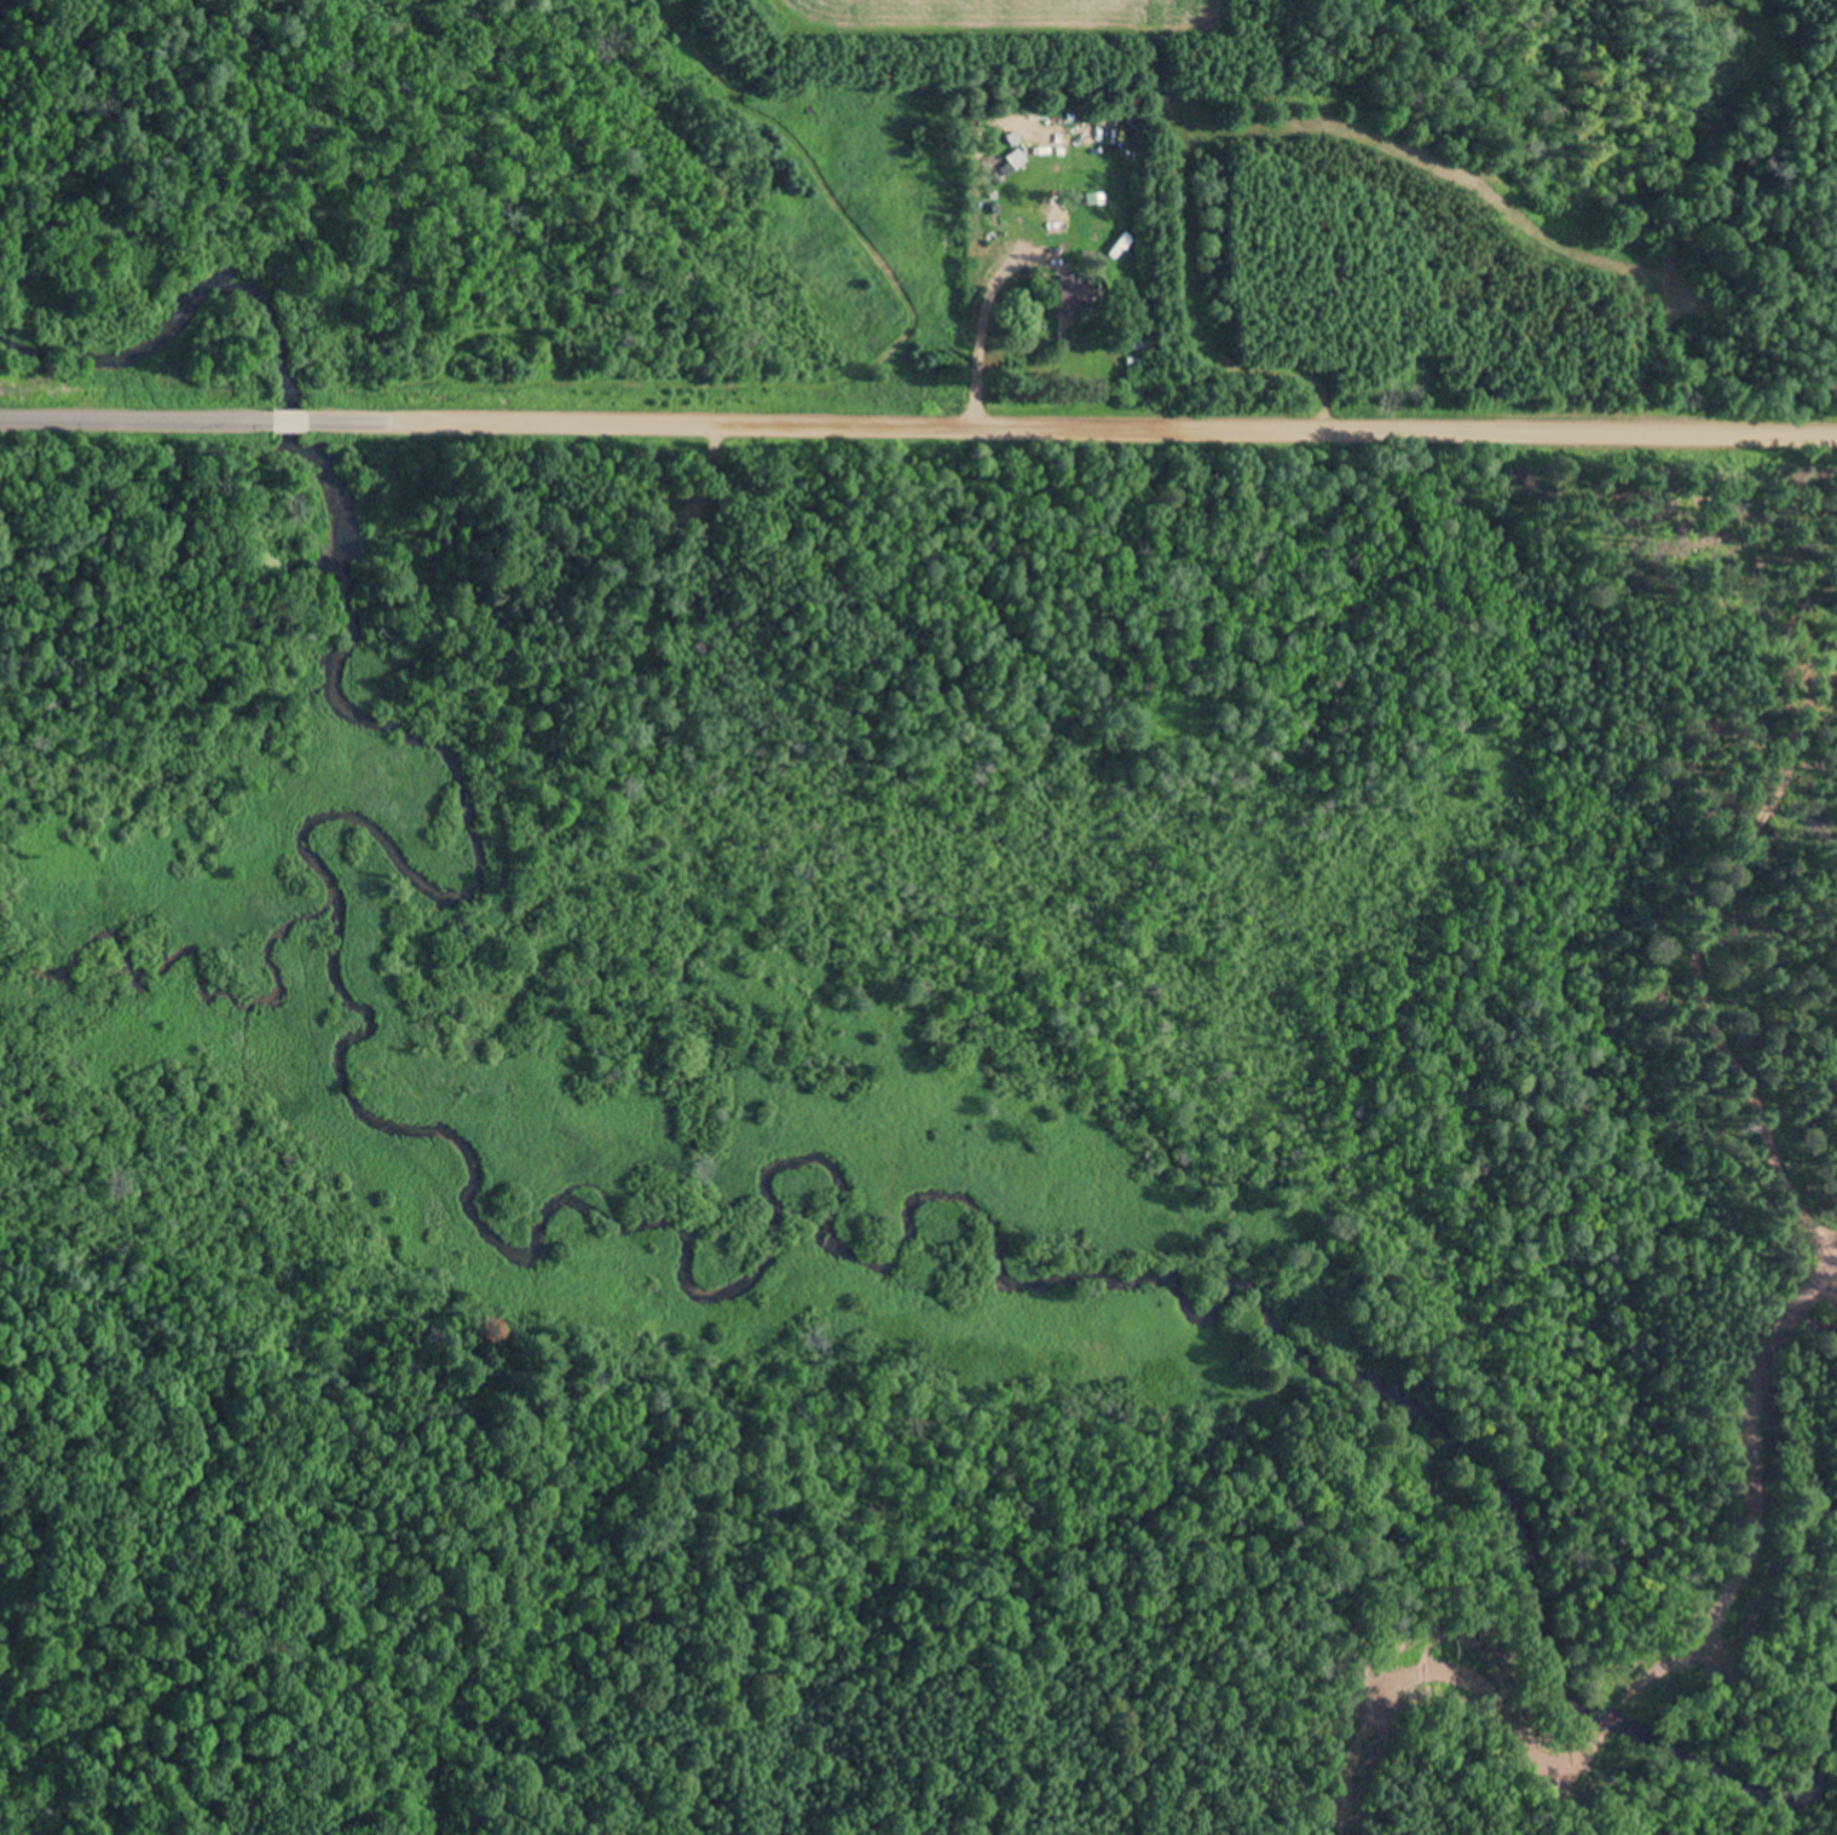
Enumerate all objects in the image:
building: (1035, 127)
building: (1070, 296)
road: (918, 415)
river: (336, 636)
river: (183, 968)
river: (1032, 1268)

